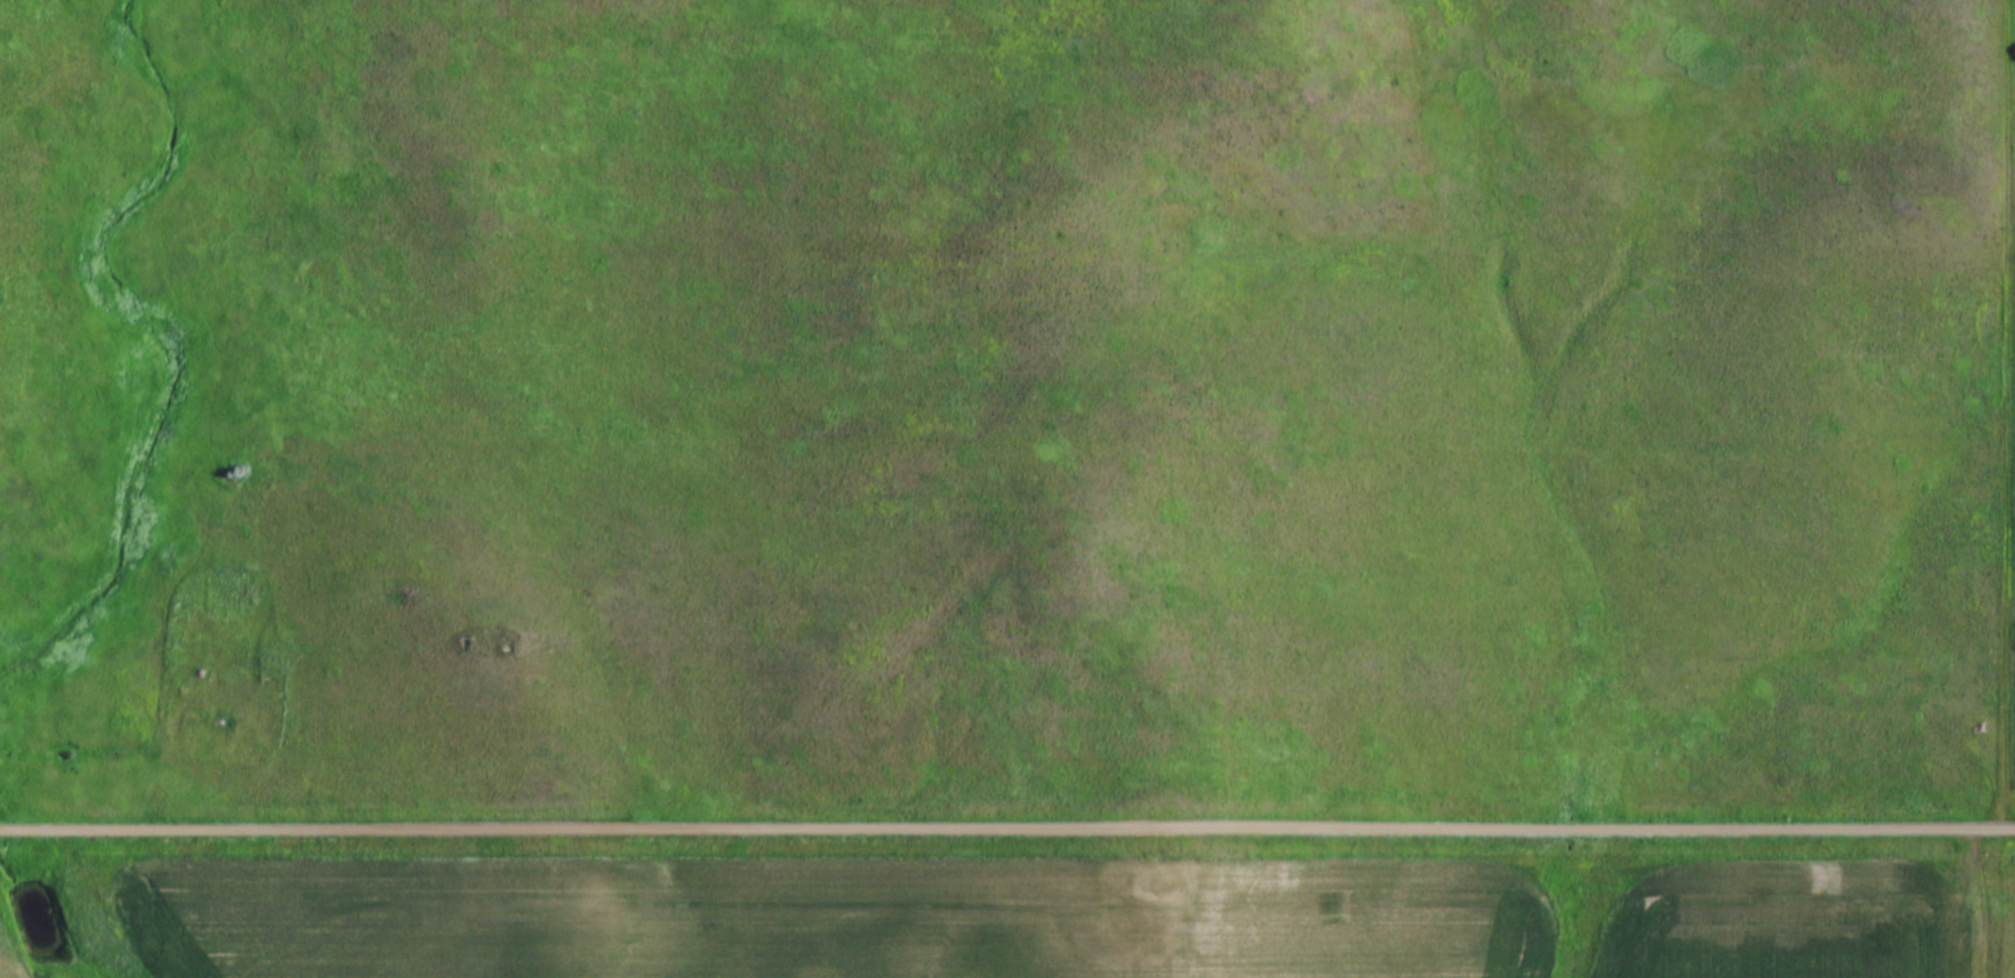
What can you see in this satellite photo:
road: (1007, 832)
road: (93, 908)

